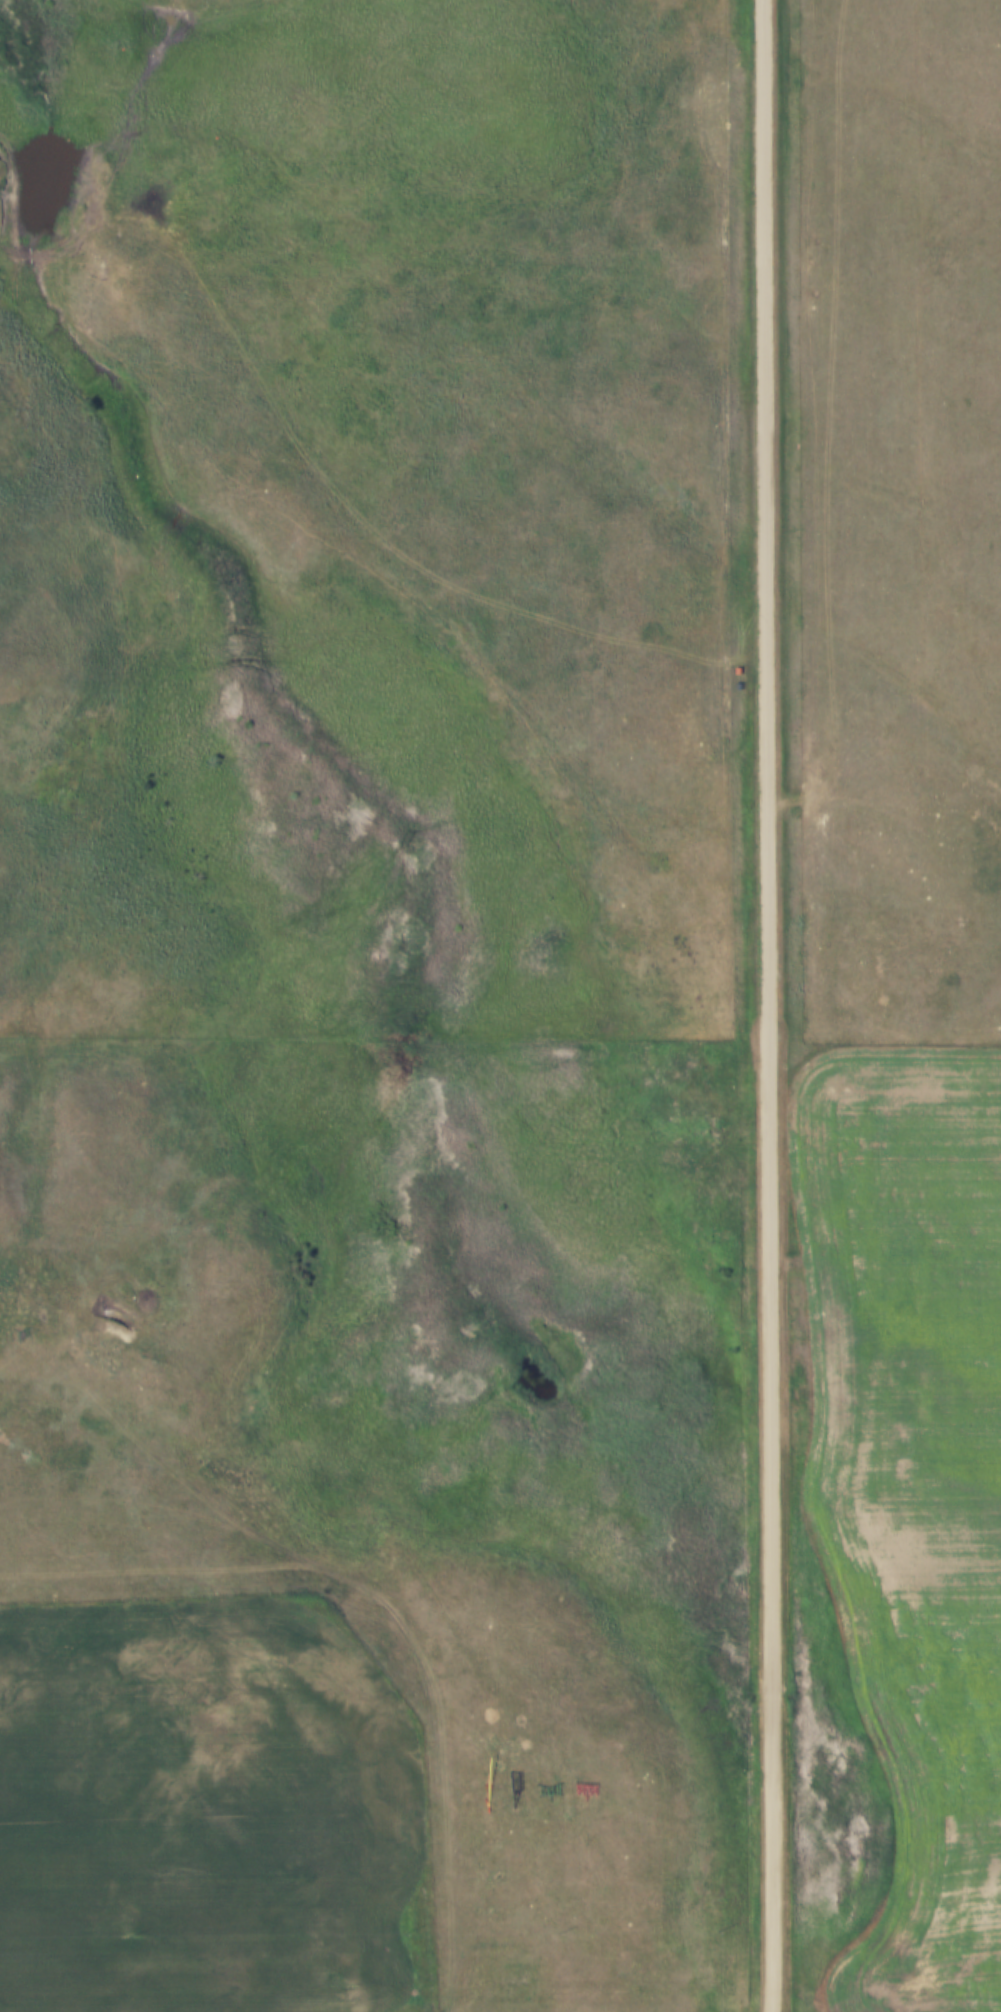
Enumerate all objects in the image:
road: (769, 1006)

